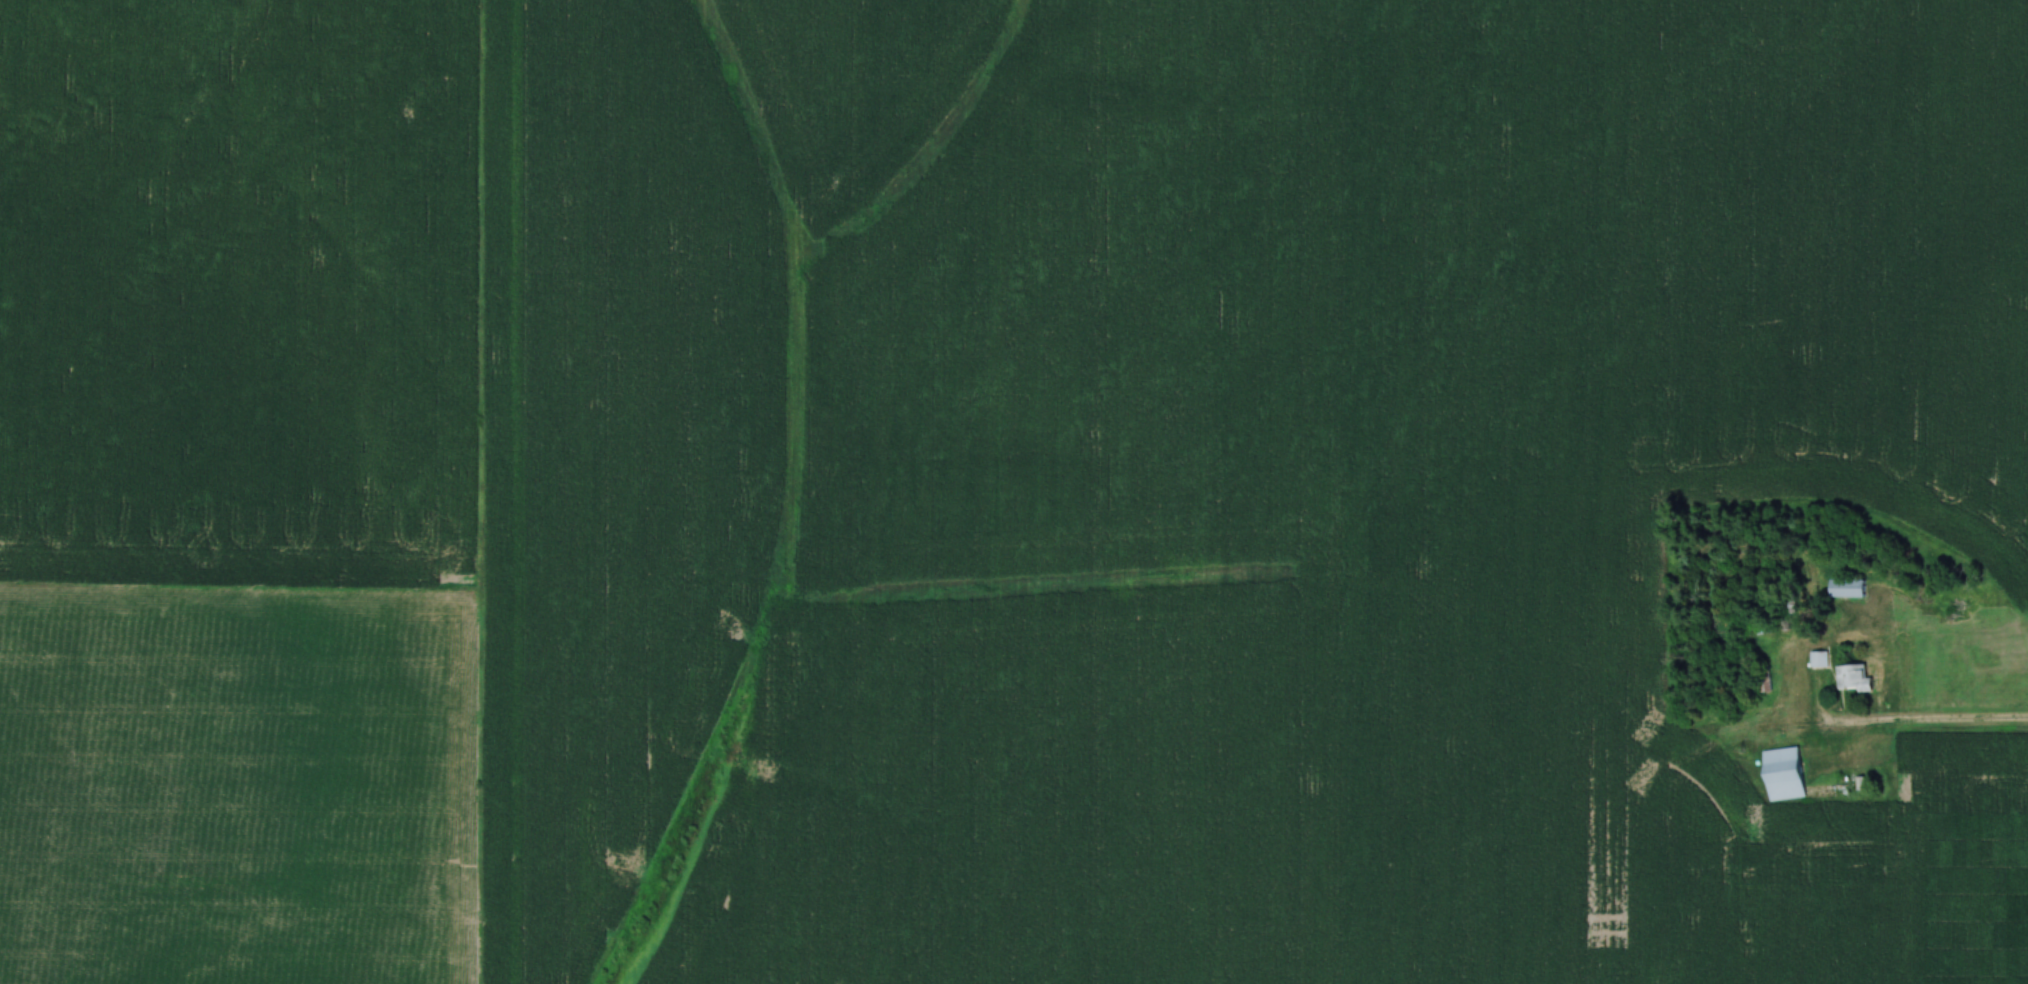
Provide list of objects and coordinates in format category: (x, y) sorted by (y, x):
building: (1853, 588)
building: (1820, 660)
building: (1857, 678)
road: (1935, 723)
building: (1788, 774)

